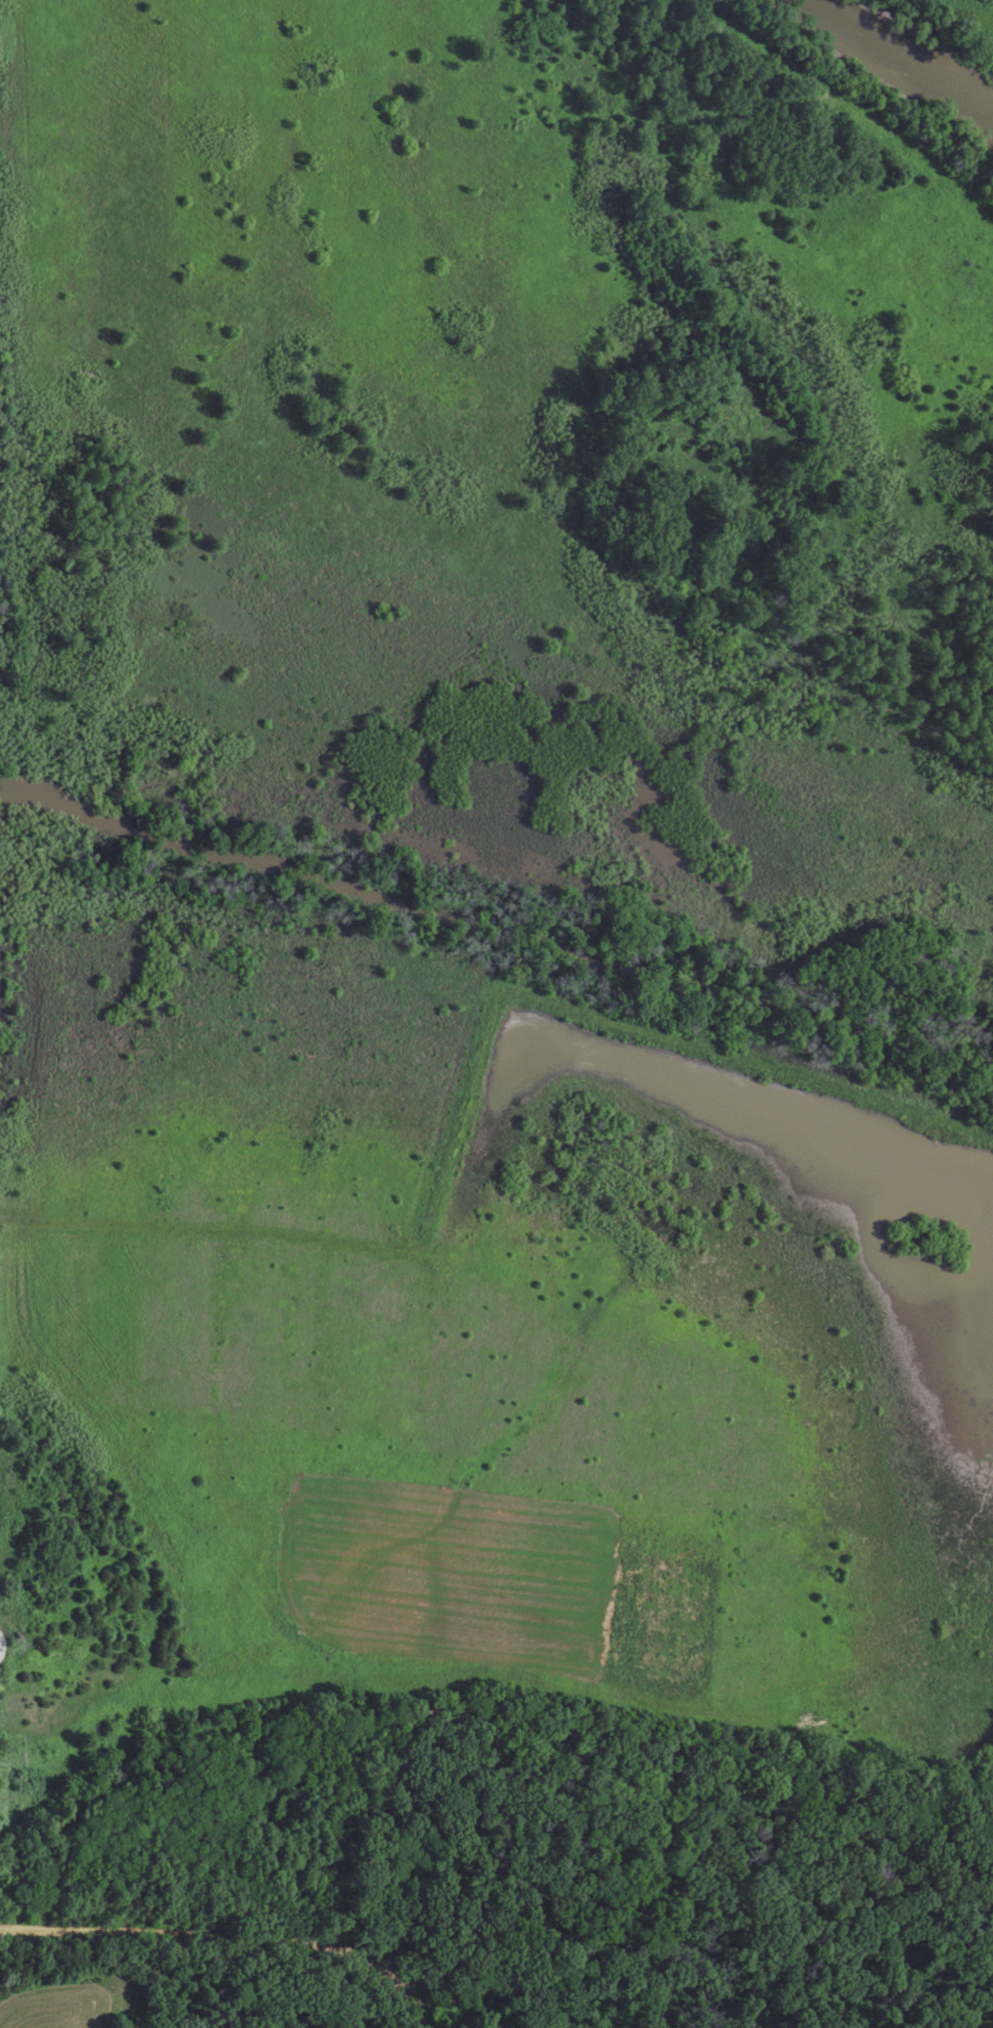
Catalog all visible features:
river: (908, 68)
road: (240, 1929)

